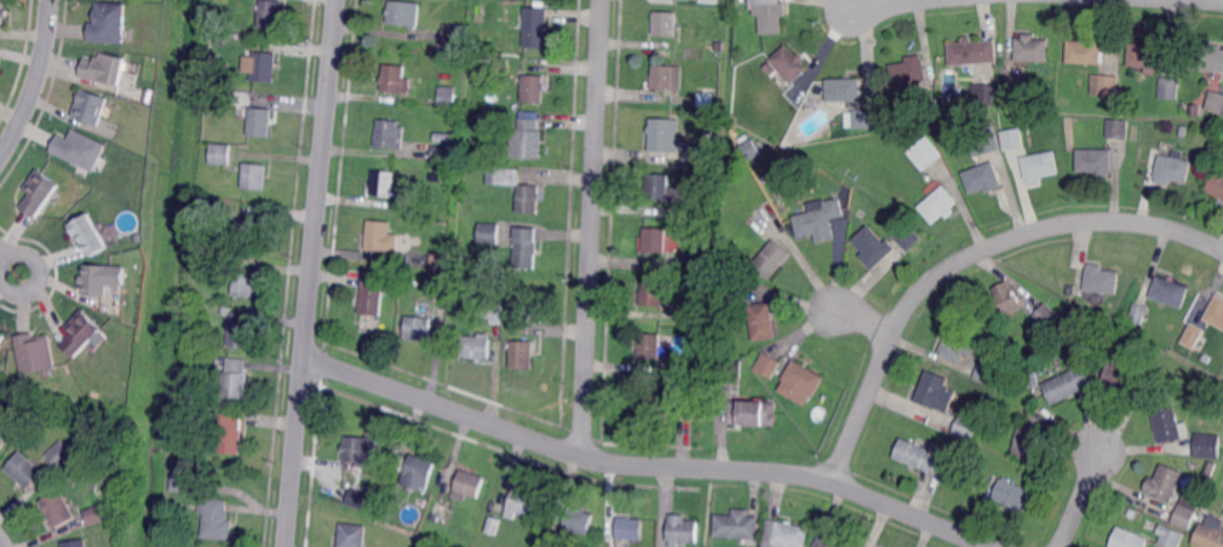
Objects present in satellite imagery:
building: (710, 1)
road: (890, 5)
building: (406, 12)
building: (1, 13)
building: (272, 13)
building: (771, 15)
building: (107, 23)
building: (666, 23)
building: (535, 28)
building: (454, 38)
building: (476, 44)
building: (719, 47)
building: (484, 48)
building: (745, 48)
building: (1033, 48)
building: (1085, 51)
building: (972, 52)
building: (1147, 54)
building: (1207, 57)
building: (791, 63)
building: (501, 65)
building: (264, 67)
building: (102, 68)
building: (771, 69)
building: (912, 73)
building: (664, 76)
building: (708, 76)
road: (31, 80)
building: (395, 80)
building: (1106, 84)
building: (1012, 86)
building: (1170, 87)
building: (535, 88)
building: (845, 90)
building: (448, 94)
building: (984, 94)
building: (1218, 104)
building: (90, 106)
building: (1200, 111)
building: (483, 116)
building: (496, 116)
building: (866, 119)
building: (262, 121)
building: (909, 125)
building: (1119, 128)
building: (1182, 132)
building: (666, 134)
building: (390, 136)
building: (529, 137)
building: (1221, 137)
building: (230, 138)
building: (1011, 139)
building: (983, 140)
building: (79, 149)
building: (695, 154)
building: (925, 154)
building: (220, 155)
building: (442, 155)
building: (787, 162)
building: (1095, 163)
building: (1041, 166)
building: (435, 167)
building: (1173, 167)
building: (255, 175)
building: (435, 177)
building: (983, 177)
building: (384, 185)
building: (659, 186)
building: (1217, 188)
building: (38, 192)
building: (530, 198)
building: (937, 206)
building: (207, 209)
building: (704, 209)
building: (819, 221)
road: (593, 228)
building: (493, 229)
building: (251, 231)
building: (86, 235)
building: (381, 237)
building: (656, 238)
building: (908, 240)
building: (528, 246)
building: (873, 247)
road: (2, 253)
road: (966, 258)
building: (773, 259)
building: (441, 261)
building: (690, 261)
building: (229, 264)
building: (736, 265)
building: (484, 269)
road: (39, 272)
road: (312, 273)
building: (101, 278)
building: (1095, 281)
building: (245, 282)
building: (443, 284)
building: (734, 289)
building: (1171, 290)
building: (655, 292)
building: (471, 293)
building: (375, 294)
building: (1003, 304)
building: (226, 311)
building: (1139, 312)
building: (1216, 312)
building: (494, 313)
building: (702, 317)
road: (866, 318)
building: (1047, 318)
building: (763, 321)
building: (420, 327)
building: (521, 327)
building: (242, 329)
building: (80, 333)
building: (1193, 334)
building: (1, 336)
building: (651, 345)
building: (959, 345)
building: (477, 346)
building: (1056, 346)
building: (34, 353)
building: (523, 353)
building: (1018, 356)
building: (769, 365)
building: (691, 370)
building: (987, 370)
building: (1017, 370)
building: (1124, 378)
building: (236, 379)
building: (802, 381)
building: (1070, 381)
building: (728, 382)
building: (683, 390)
building: (936, 391)
building: (662, 397)
building: (753, 413)
building: (1169, 425)
building: (966, 428)
building: (228, 432)
building: (1028, 441)
building: (1, 442)
building: (1207, 444)
building: (1, 445)
road: (561, 449)
building: (361, 450)
building: (62, 455)
building: (925, 457)
building: (25, 470)
building: (1211, 470)
building: (420, 472)
building: (375, 473)
building: (182, 482)
building: (1024, 482)
building: (1165, 483)
building: (467, 485)
building: (1012, 494)
building: (360, 497)
road: (1080, 499)
building: (521, 503)
building: (58, 509)
road: (912, 513)
building: (1131, 514)
building: (1185, 514)
building: (96, 516)
building: (217, 518)
building: (579, 520)
building: (735, 525)
building: (414, 526)
building: (631, 528)
building: (681, 530)
building: (1210, 534)
building: (354, 535)
building: (787, 535)
building: (1171, 535)
building: (544, 539)
building: (1129, 539)
building: (836, 540)
building: (76, 543)
road: (1, 545)

